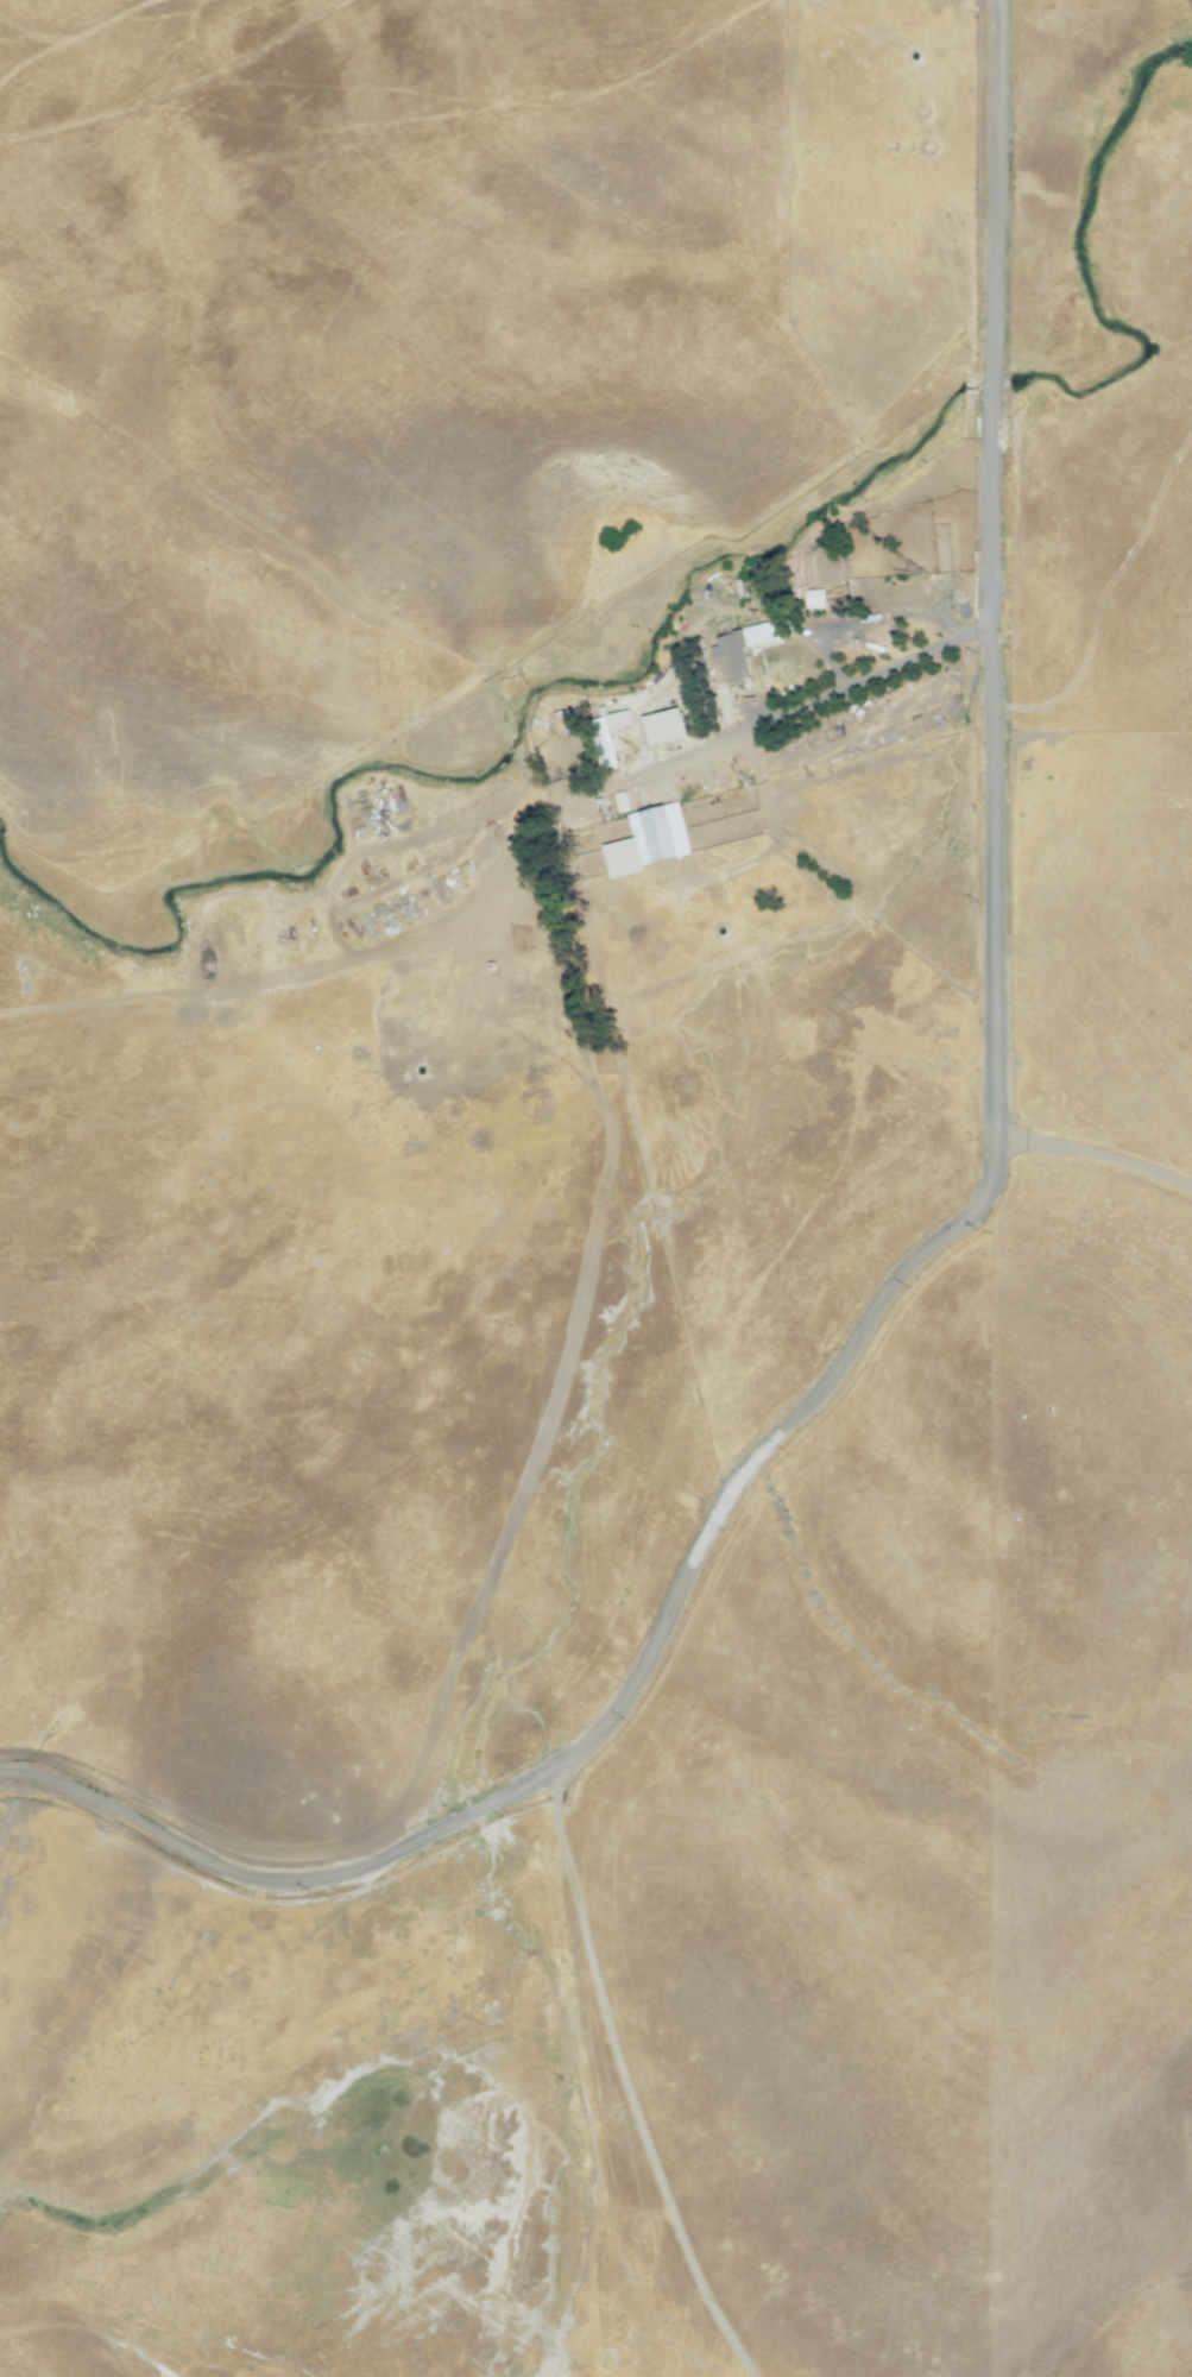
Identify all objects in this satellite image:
building: (742, 643)
road: (826, 691)
building: (660, 725)
building: (657, 832)
road: (1093, 1160)
road: (941, 1238)

